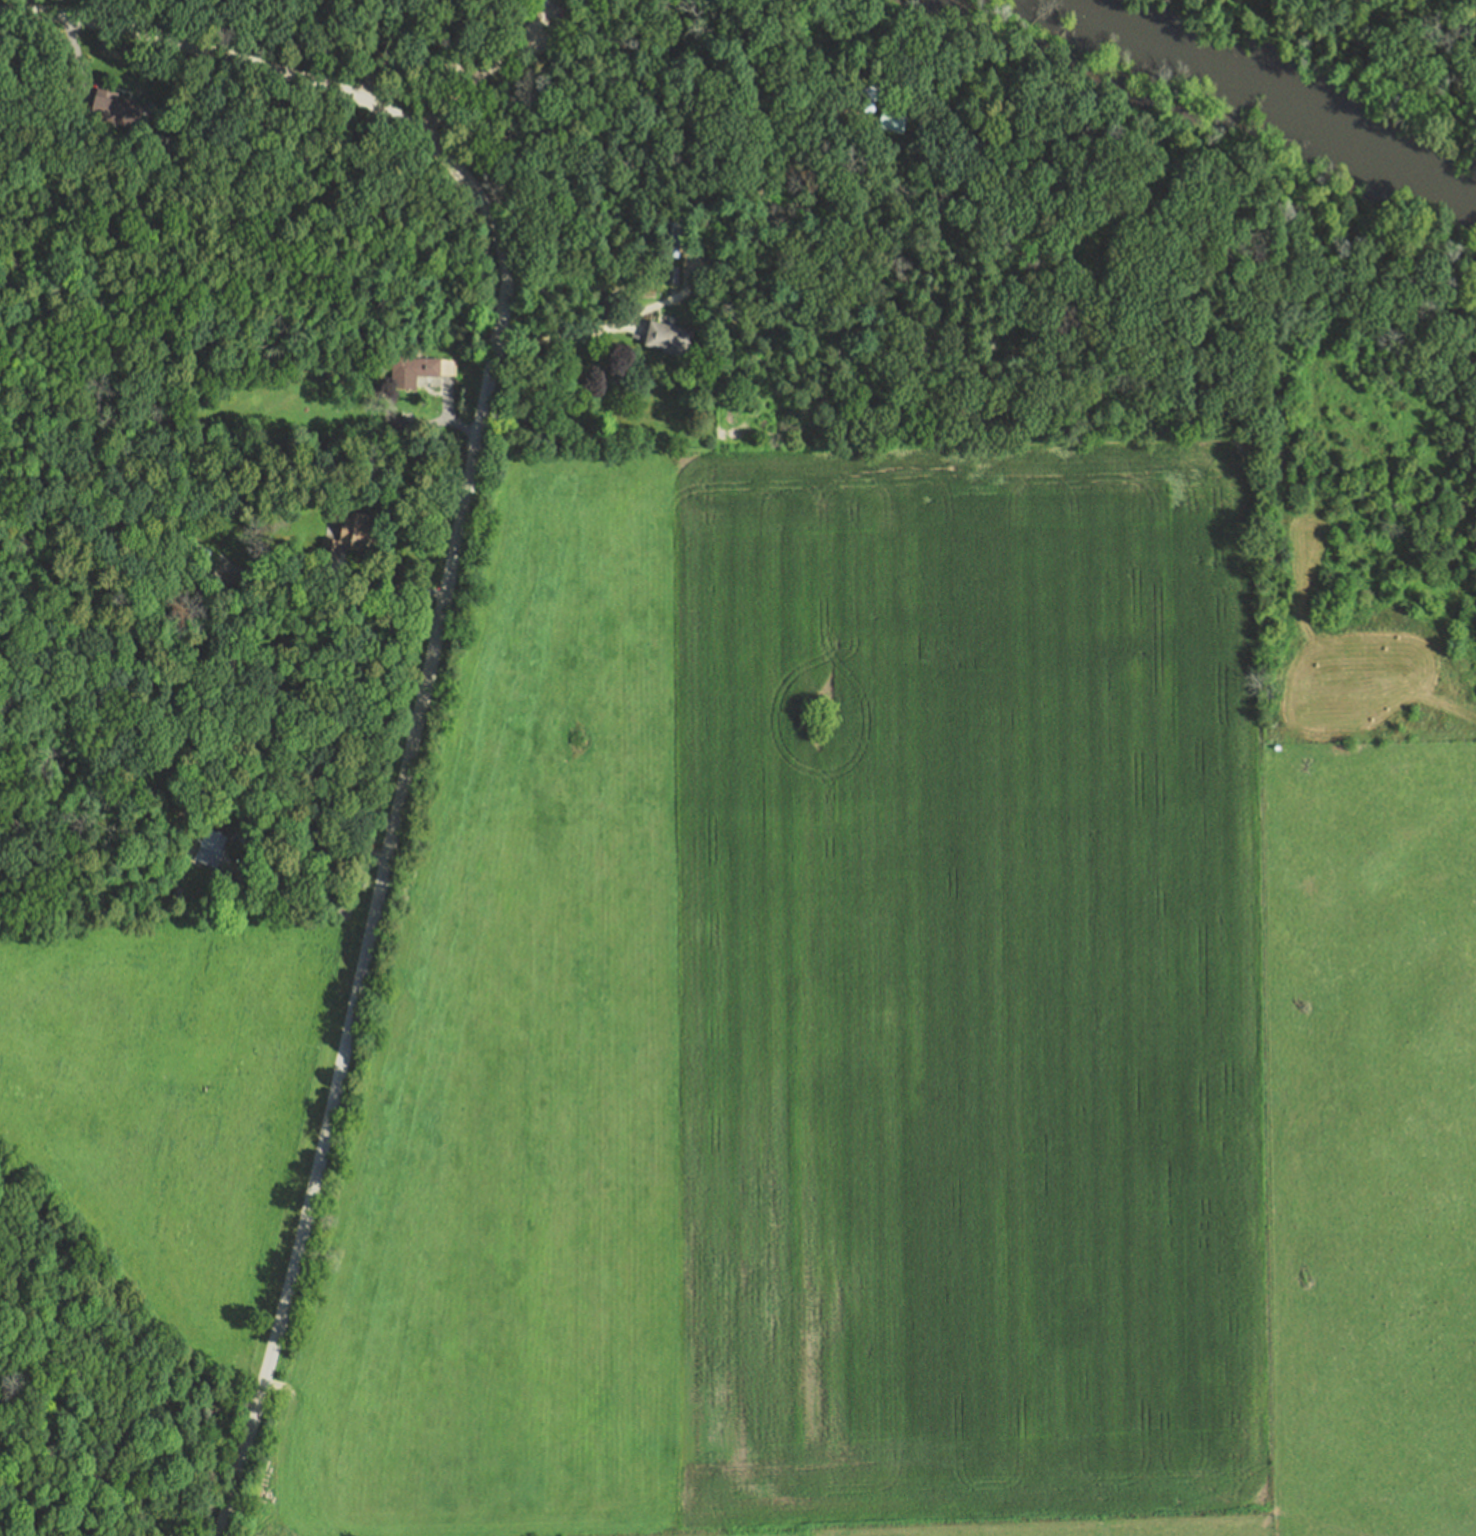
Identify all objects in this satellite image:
road: (24, 6)
parking lot: (547, 16)
road: (507, 28)
road: (74, 53)
road: (479, 76)
river: (1257, 79)
park: (607, 86)
building: (115, 109)
building: (889, 121)
road: (670, 149)
building: (668, 237)
road: (588, 332)
building: (666, 340)
building: (418, 366)
road: (445, 415)
road: (428, 424)
building: (395, 427)
building: (347, 534)
building: (198, 581)
road: (333, 583)
road: (440, 609)
building: (203, 847)
road: (302, 864)
building: (173, 894)

